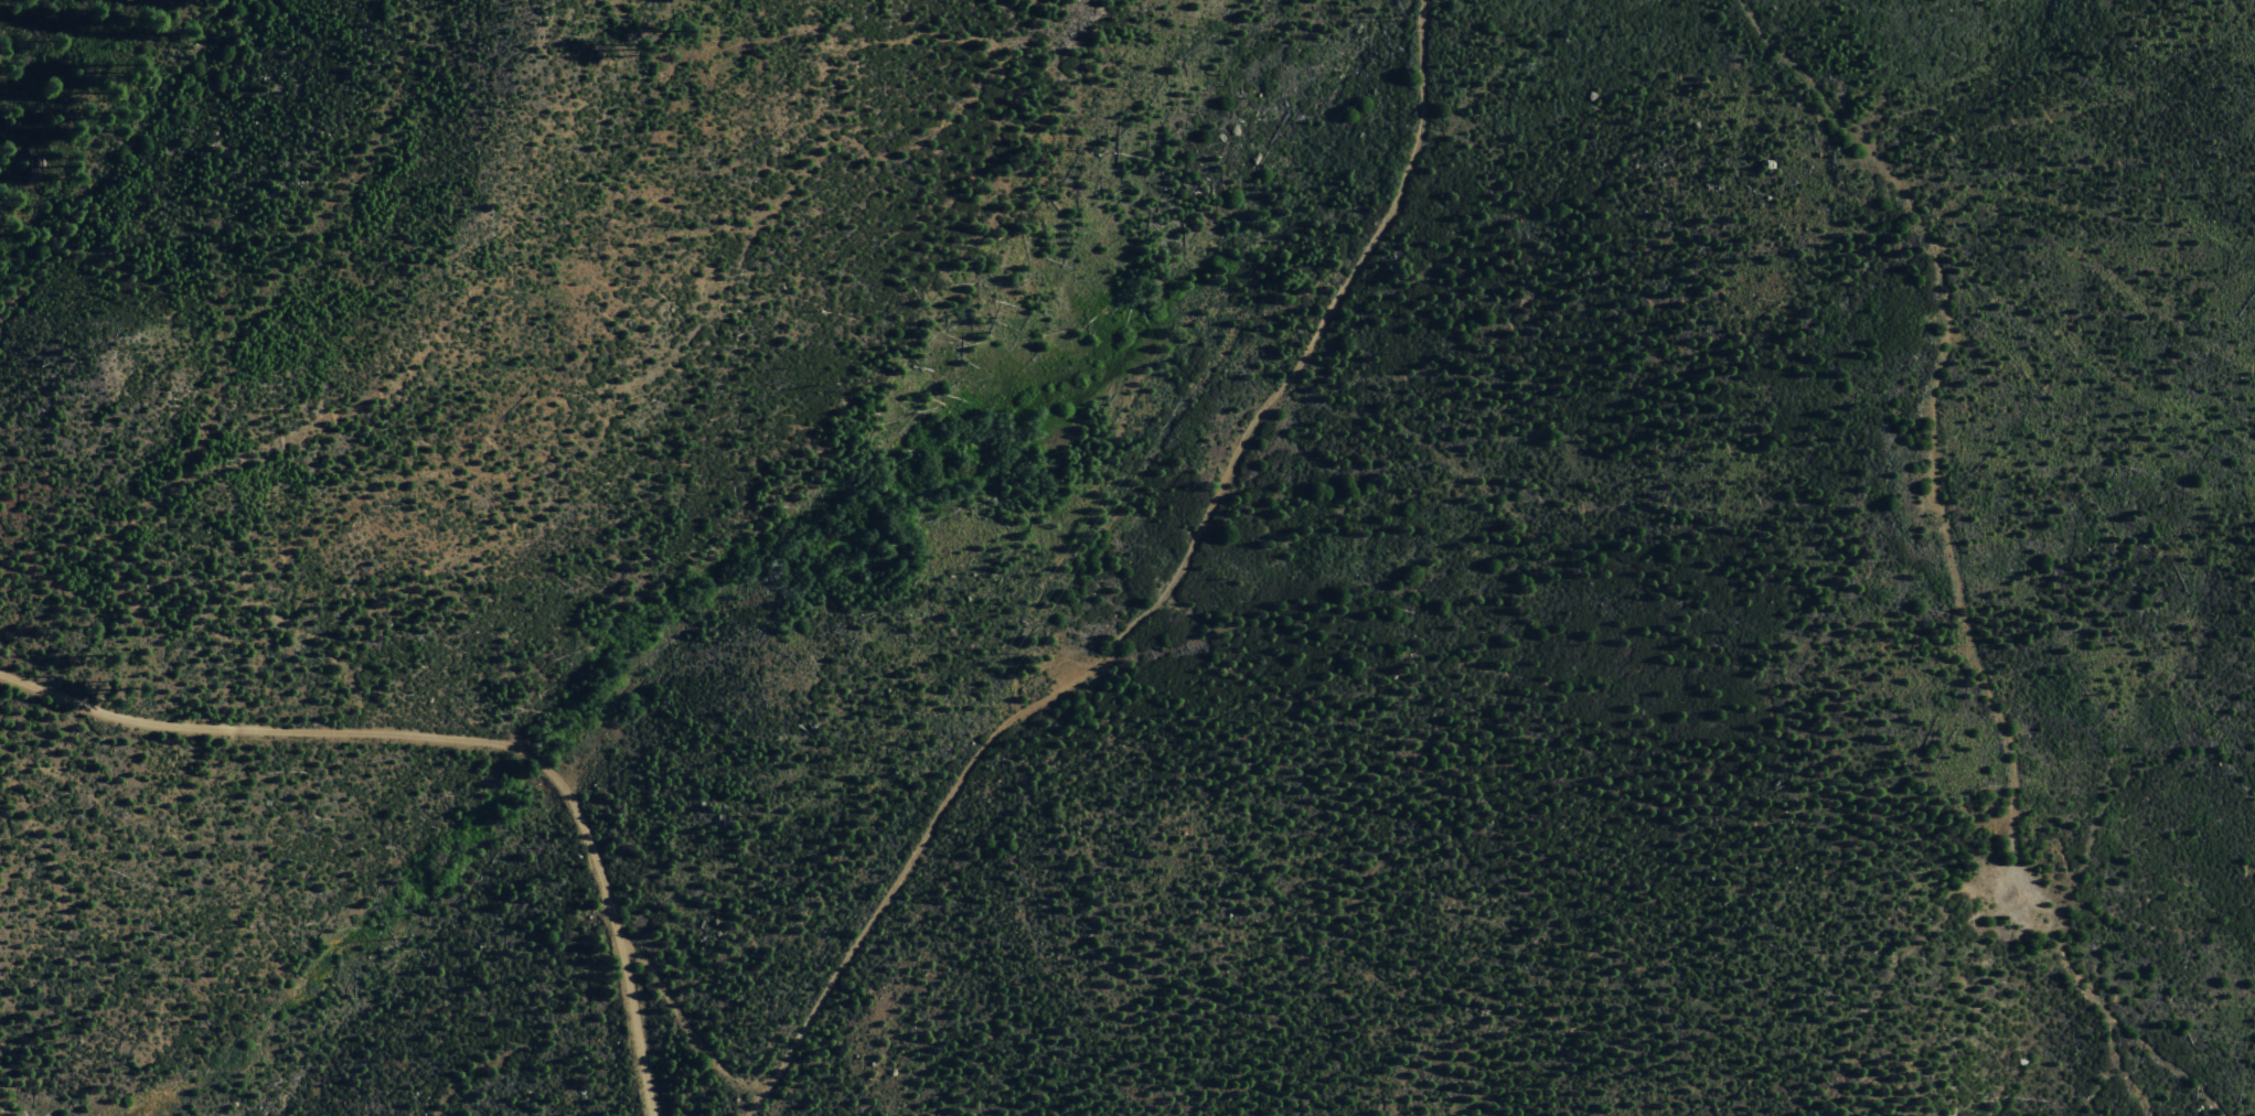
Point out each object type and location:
power tower: (1399, 15)
road: (1173, 604)
power tower: (1002, 651)
road: (456, 738)
power tower: (762, 1027)

